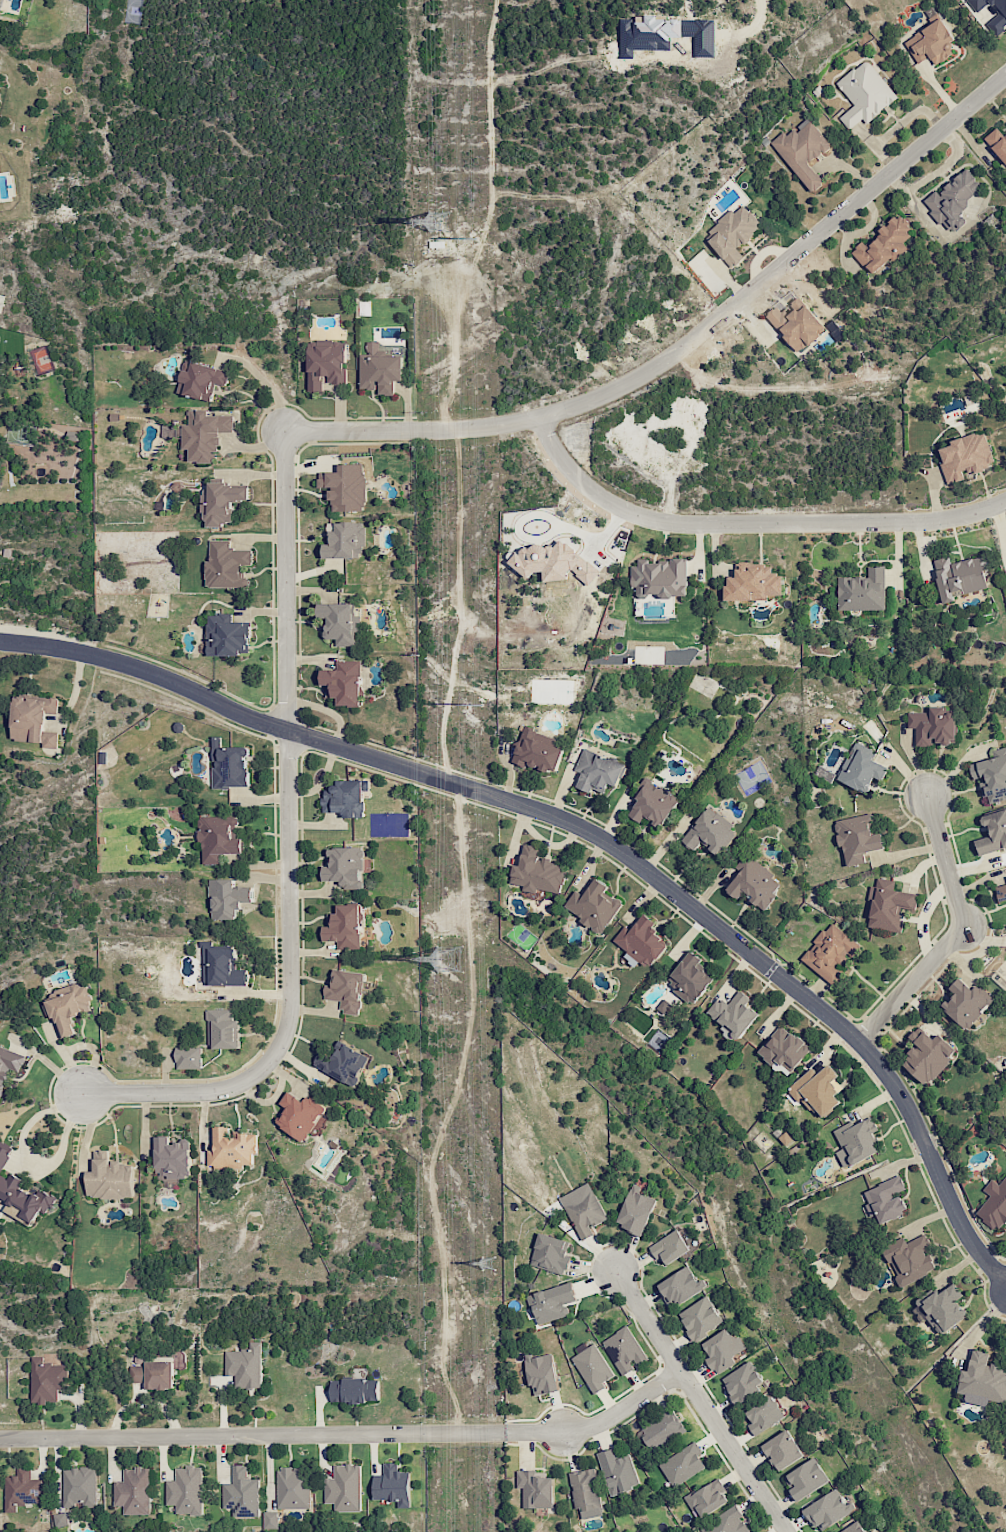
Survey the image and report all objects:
building: (992, 14)
building: (931, 43)
building: (864, 93)
building: (997, 143)
building: (802, 151)
building: (953, 201)
power tower: (437, 221)
building: (732, 233)
power tower: (477, 238)
building: (884, 245)
building: (796, 323)
building: (326, 363)
building: (379, 370)
building: (201, 379)
road: (266, 384)
road: (454, 387)
building: (204, 435)
road: (289, 435)
building: (965, 456)
building: (345, 487)
building: (222, 502)
road: (750, 522)
building: (345, 540)
building: (553, 562)
building: (226, 565)
building: (959, 576)
building: (660, 578)
building: (752, 582)
building: (863, 591)
building: (340, 622)
building: (227, 636)
building: (343, 682)
power tower: (481, 705)
building: (33, 720)
building: (933, 726)
building: (537, 750)
building: (229, 765)
building: (861, 767)
building: (598, 771)
building: (824, 774)
building: (345, 798)
building: (652, 802)
road: (591, 832)
building: (709, 832)
building: (993, 832)
building: (218, 838)
building: (857, 838)
building: (345, 867)
building: (537, 872)
building: (1005, 876)
building: (755, 882)
building: (1001, 891)
building: (227, 898)
building: (593, 906)
building: (887, 906)
building: (344, 927)
road: (958, 932)
building: (641, 941)
building: (830, 953)
power tower: (449, 962)
building: (223, 967)
building: (690, 978)
building: (346, 990)
building: (966, 1002)
building: (67, 1007)
building: (733, 1015)
building: (223, 1029)
building: (784, 1050)
building: (927, 1056)
building: (188, 1057)
building: (343, 1063)
building: (9, 1064)
building: (817, 1090)
road: (448, 1112)
building: (299, 1115)
building: (856, 1141)
building: (232, 1149)
building: (172, 1158)
road: (34, 1164)
building: (109, 1178)
building: (21, 1194)
building: (886, 1199)
building: (994, 1205)
building: (583, 1210)
building: (636, 1210)
building: (673, 1246)
building: (550, 1254)
building: (909, 1259)
power tower: (488, 1263)
building: (680, 1286)
building: (551, 1302)
building: (942, 1307)
building: (700, 1318)
building: (624, 1350)
building: (723, 1350)
building: (245, 1365)
building: (592, 1368)
building: (542, 1373)
building: (136, 1374)
building: (159, 1375)
building: (47, 1380)
building: (982, 1381)
building: (743, 1382)
building: (354, 1390)
road: (700, 1400)
building: (764, 1415)
road: (599, 1420)
building: (661, 1430)
road: (252, 1434)
building: (782, 1450)
building: (682, 1465)
building: (617, 1471)
building: (806, 1479)
building: (392, 1485)
building: (79, 1487)
building: (292, 1488)
building: (344, 1488)
building: (22, 1489)
building: (535, 1489)
building: (186, 1490)
building: (133, 1491)
building: (585, 1492)
building: (241, 1493)
building: (707, 1499)
building: (828, 1509)
building: (60, 1519)
building: (270, 1519)
building: (727, 1522)
building: (853, 1527)

